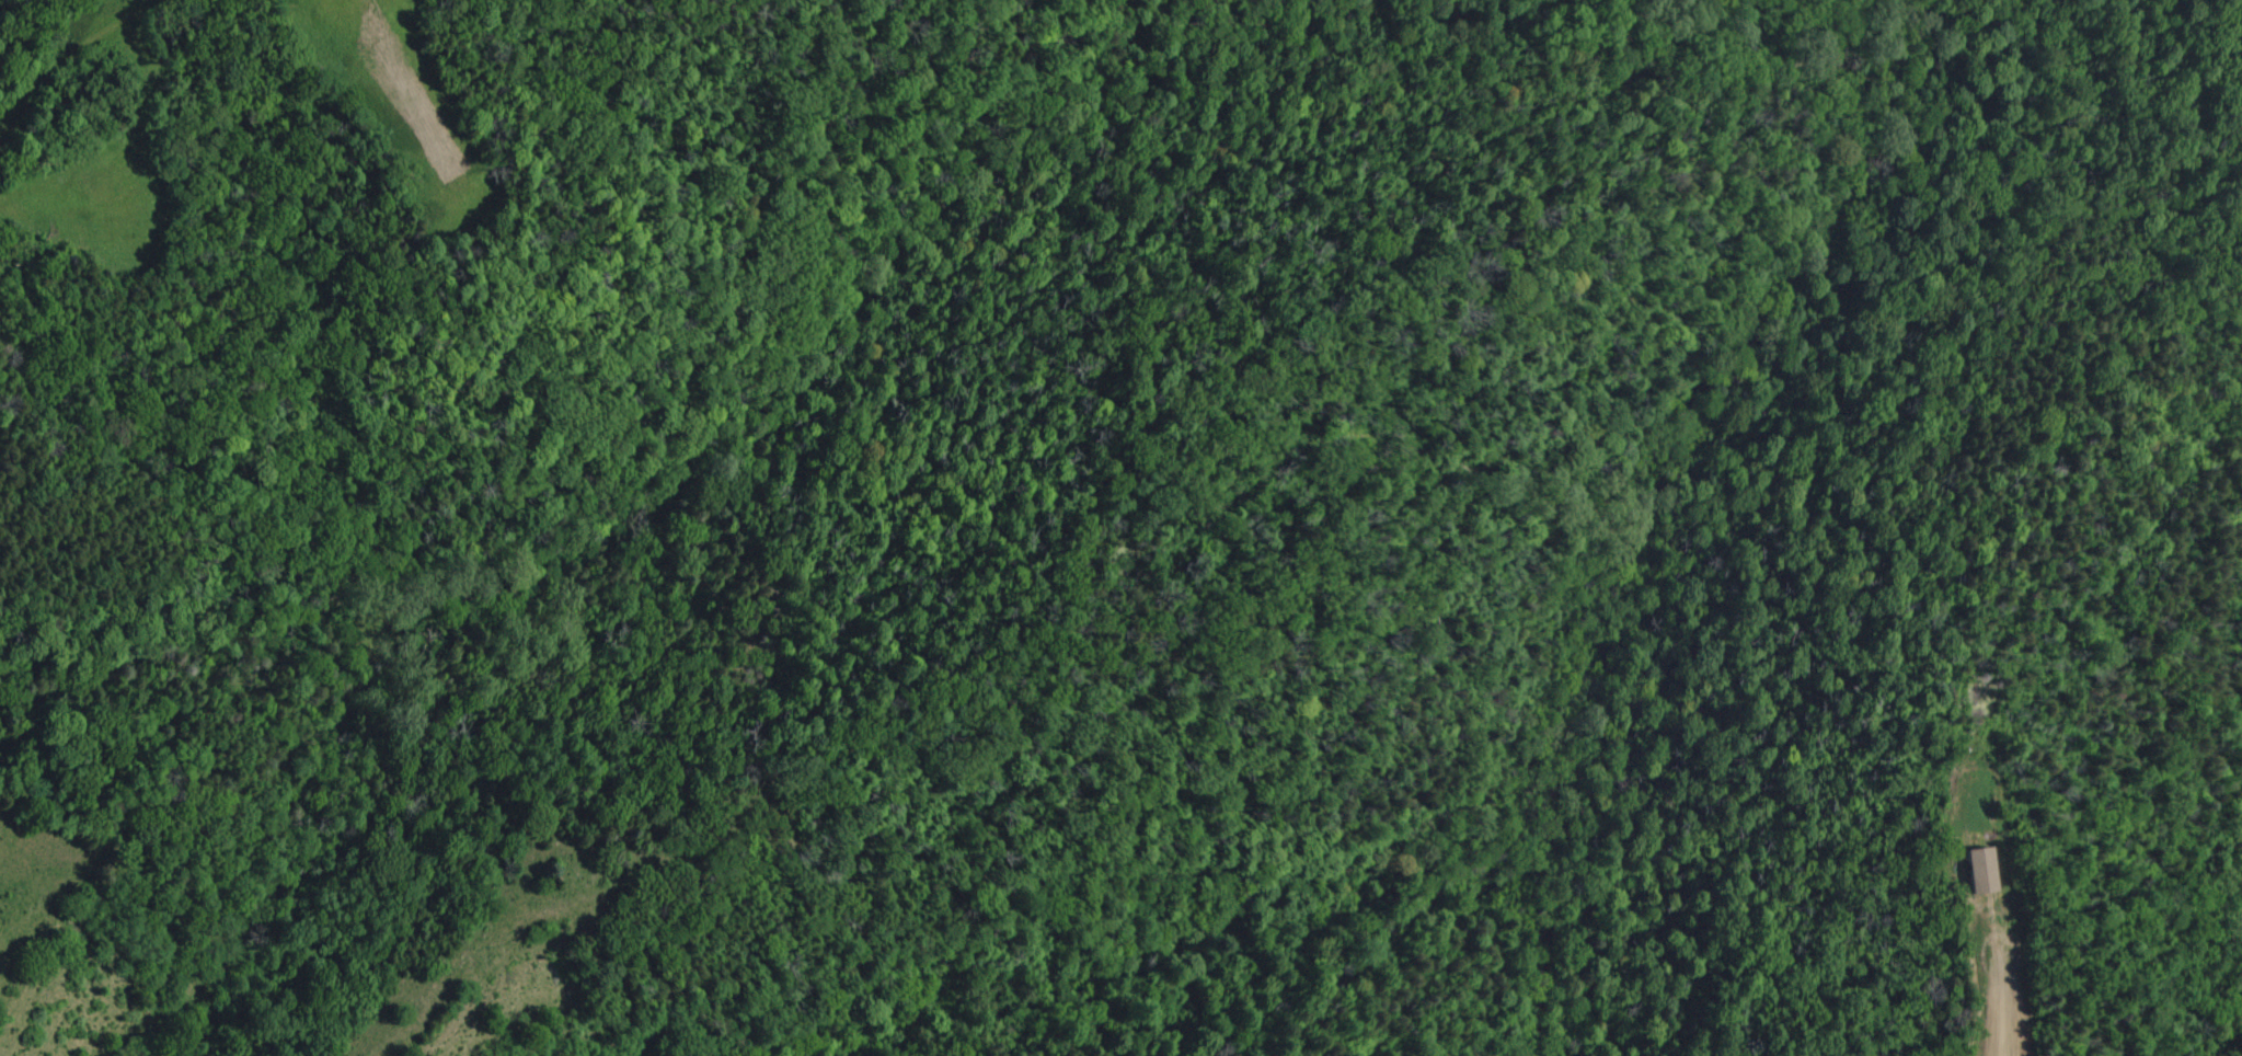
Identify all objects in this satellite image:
building: (1974, 870)

